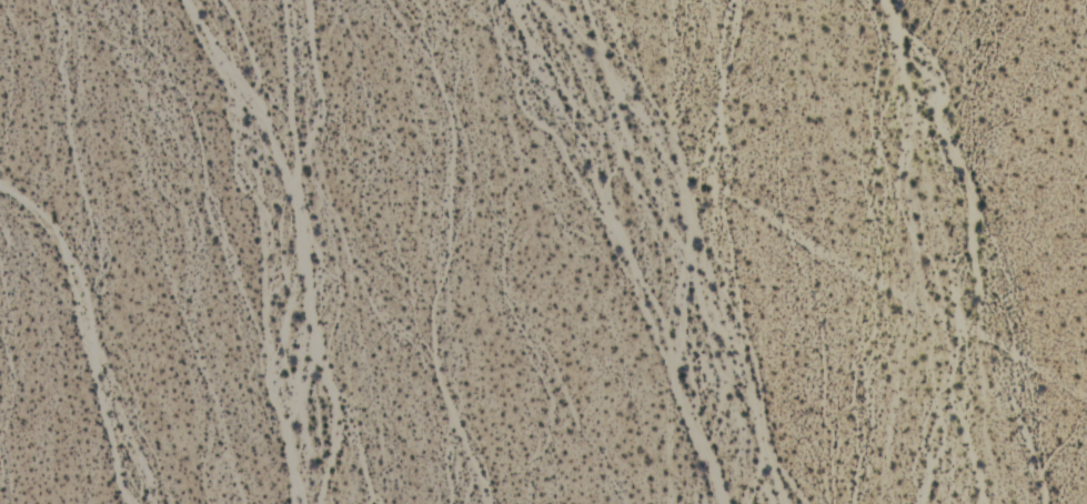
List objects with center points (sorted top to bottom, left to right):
road: (767, 203)

